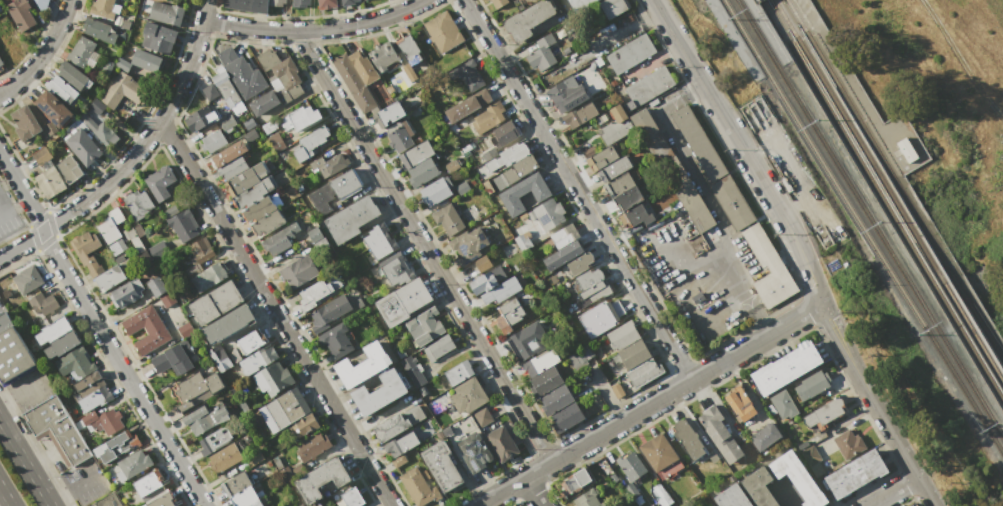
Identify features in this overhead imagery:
building: (485, 0)
building: (487, 0)
building: (276, 2)
building: (348, 2)
building: (299, 3)
building: (498, 3)
building: (41, 4)
building: (326, 4)
building: (578, 4)
building: (246, 5)
building: (612, 7)
building: (103, 8)
building: (166, 13)
building: (20, 14)
building: (527, 20)
building: (125, 24)
building: (98, 30)
road: (315, 31)
building: (444, 31)
railway: (763, 33)
building: (119, 37)
building: (158, 37)
railway: (739, 39)
building: (9, 42)
building: (409, 49)
road: (43, 53)
building: (83, 53)
building: (542, 53)
building: (630, 54)
building: (382, 56)
building: (267, 59)
building: (145, 60)
road: (961, 60)
building: (1, 65)
building: (106, 68)
building: (363, 68)
building: (241, 73)
building: (72, 75)
building: (467, 75)
road: (848, 76)
building: (401, 78)
building: (288, 79)
building: (353, 83)
building: (647, 87)
building: (62, 89)
building: (124, 90)
building: (226, 90)
building: (210, 92)
building: (565, 96)
building: (263, 103)
building: (96, 106)
building: (467, 106)
building: (53, 108)
building: (389, 113)
building: (579, 115)
building: (489, 117)
building: (301, 118)
building: (199, 119)
building: (25, 122)
building: (226, 122)
building: (615, 126)
building: (268, 127)
building: (50, 128)
building: (100, 131)
building: (504, 133)
railway: (865, 133)
building: (250, 135)
building: (650, 135)
building: (274, 139)
building: (399, 139)
building: (212, 141)
railway: (859, 142)
building: (310, 143)
building: (698, 143)
building: (82, 147)
road: (744, 149)
building: (906, 150)
road: (134, 152)
building: (228, 153)
building: (415, 155)
building: (41, 156)
building: (504, 156)
building: (599, 157)
building: (329, 164)
building: (451, 166)
building: (233, 168)
building: (69, 169)
building: (614, 169)
building: (515, 171)
building: (421, 172)
road: (6, 177)
building: (244, 179)
building: (159, 182)
building: (49, 183)
building: (487, 186)
building: (617, 186)
building: (462, 187)
building: (333, 190)
building: (435, 191)
road: (577, 191)
building: (253, 192)
building: (524, 193)
building: (687, 196)
building: (624, 200)
railway: (883, 201)
building: (732, 202)
building: (137, 203)
road: (14, 209)
building: (259, 209)
building: (548, 213)
building: (115, 215)
building: (635, 216)
building: (351, 218)
building: (447, 219)
railway: (869, 219)
building: (180, 222)
building: (267, 222)
railway: (863, 228)
building: (107, 229)
building: (564, 236)
building: (279, 238)
building: (379, 241)
building: (522, 242)
building: (468, 244)
road: (425, 247)
building: (115, 248)
building: (156, 250)
building: (86, 252)
building: (202, 252)
building: (563, 255)
building: (133, 262)
building: (482, 263)
building: (579, 263)
road: (729, 268)
building: (768, 268)
building: (396, 269)
building: (298, 270)
building: (207, 277)
building: (109, 278)
building: (588, 278)
building: (488, 279)
building: (27, 280)
building: (156, 286)
building: (501, 291)
building: (125, 293)
building: (591, 294)
building: (312, 295)
building: (167, 299)
building: (402, 302)
building: (215, 303)
building: (43, 304)
building: (328, 312)
railway: (974, 312)
road: (275, 313)
railway: (974, 314)
building: (508, 315)
building: (600, 317)
road: (697, 318)
building: (227, 324)
building: (424, 327)
building: (53, 329)
building: (146, 329)
building: (185, 330)
road: (98, 331)
railway: (974, 332)
building: (622, 335)
building: (336, 340)
building: (526, 340)
building: (250, 341)
building: (62, 344)
building: (439, 347)
building: (12, 350)
building: (580, 355)
building: (634, 355)
building: (219, 357)
building: (173, 358)
building: (257, 360)
building: (540, 362)
building: (75, 363)
building: (362, 365)
building: (786, 368)
building: (458, 372)
building: (644, 372)
building: (414, 373)
building: (273, 378)
building: (544, 381)
building: (600, 383)
building: (88, 384)
building: (812, 384)
building: (196, 389)
building: (617, 391)
road: (15, 392)
building: (378, 393)
building: (465, 397)
building: (94, 398)
building: (556, 400)
road: (651, 404)
building: (741, 404)
road: (878, 405)
building: (781, 406)
building: (284, 409)
building: (823, 413)
building: (481, 416)
building: (205, 417)
building: (566, 417)
building: (103, 421)
building: (396, 424)
building: (304, 425)
building: (57, 428)
building: (720, 434)
building: (766, 436)
building: (688, 439)
building: (214, 440)
building: (501, 443)
building: (401, 444)
building: (849, 444)
building: (311, 445)
building: (118, 446)
building: (474, 452)
building: (658, 452)
building: (810, 455)
building: (224, 458)
building: (255, 458)
road: (25, 463)
building: (133, 464)
building: (442, 465)
building: (630, 466)
building: (856, 473)
building: (285, 474)
building: (798, 478)
building: (320, 480)
building: (575, 481)
building: (150, 483)
building: (236, 484)
building: (419, 487)
building: (759, 487)
road: (71, 490)
road: (898, 492)
road: (533, 493)
road: (6, 495)
building: (244, 497)
building: (347, 497)
building: (663, 497)
building: (732, 497)
building: (588, 498)
building: (161, 499)
building: (108, 501)
building: (256, 504)
building: (712, 505)

